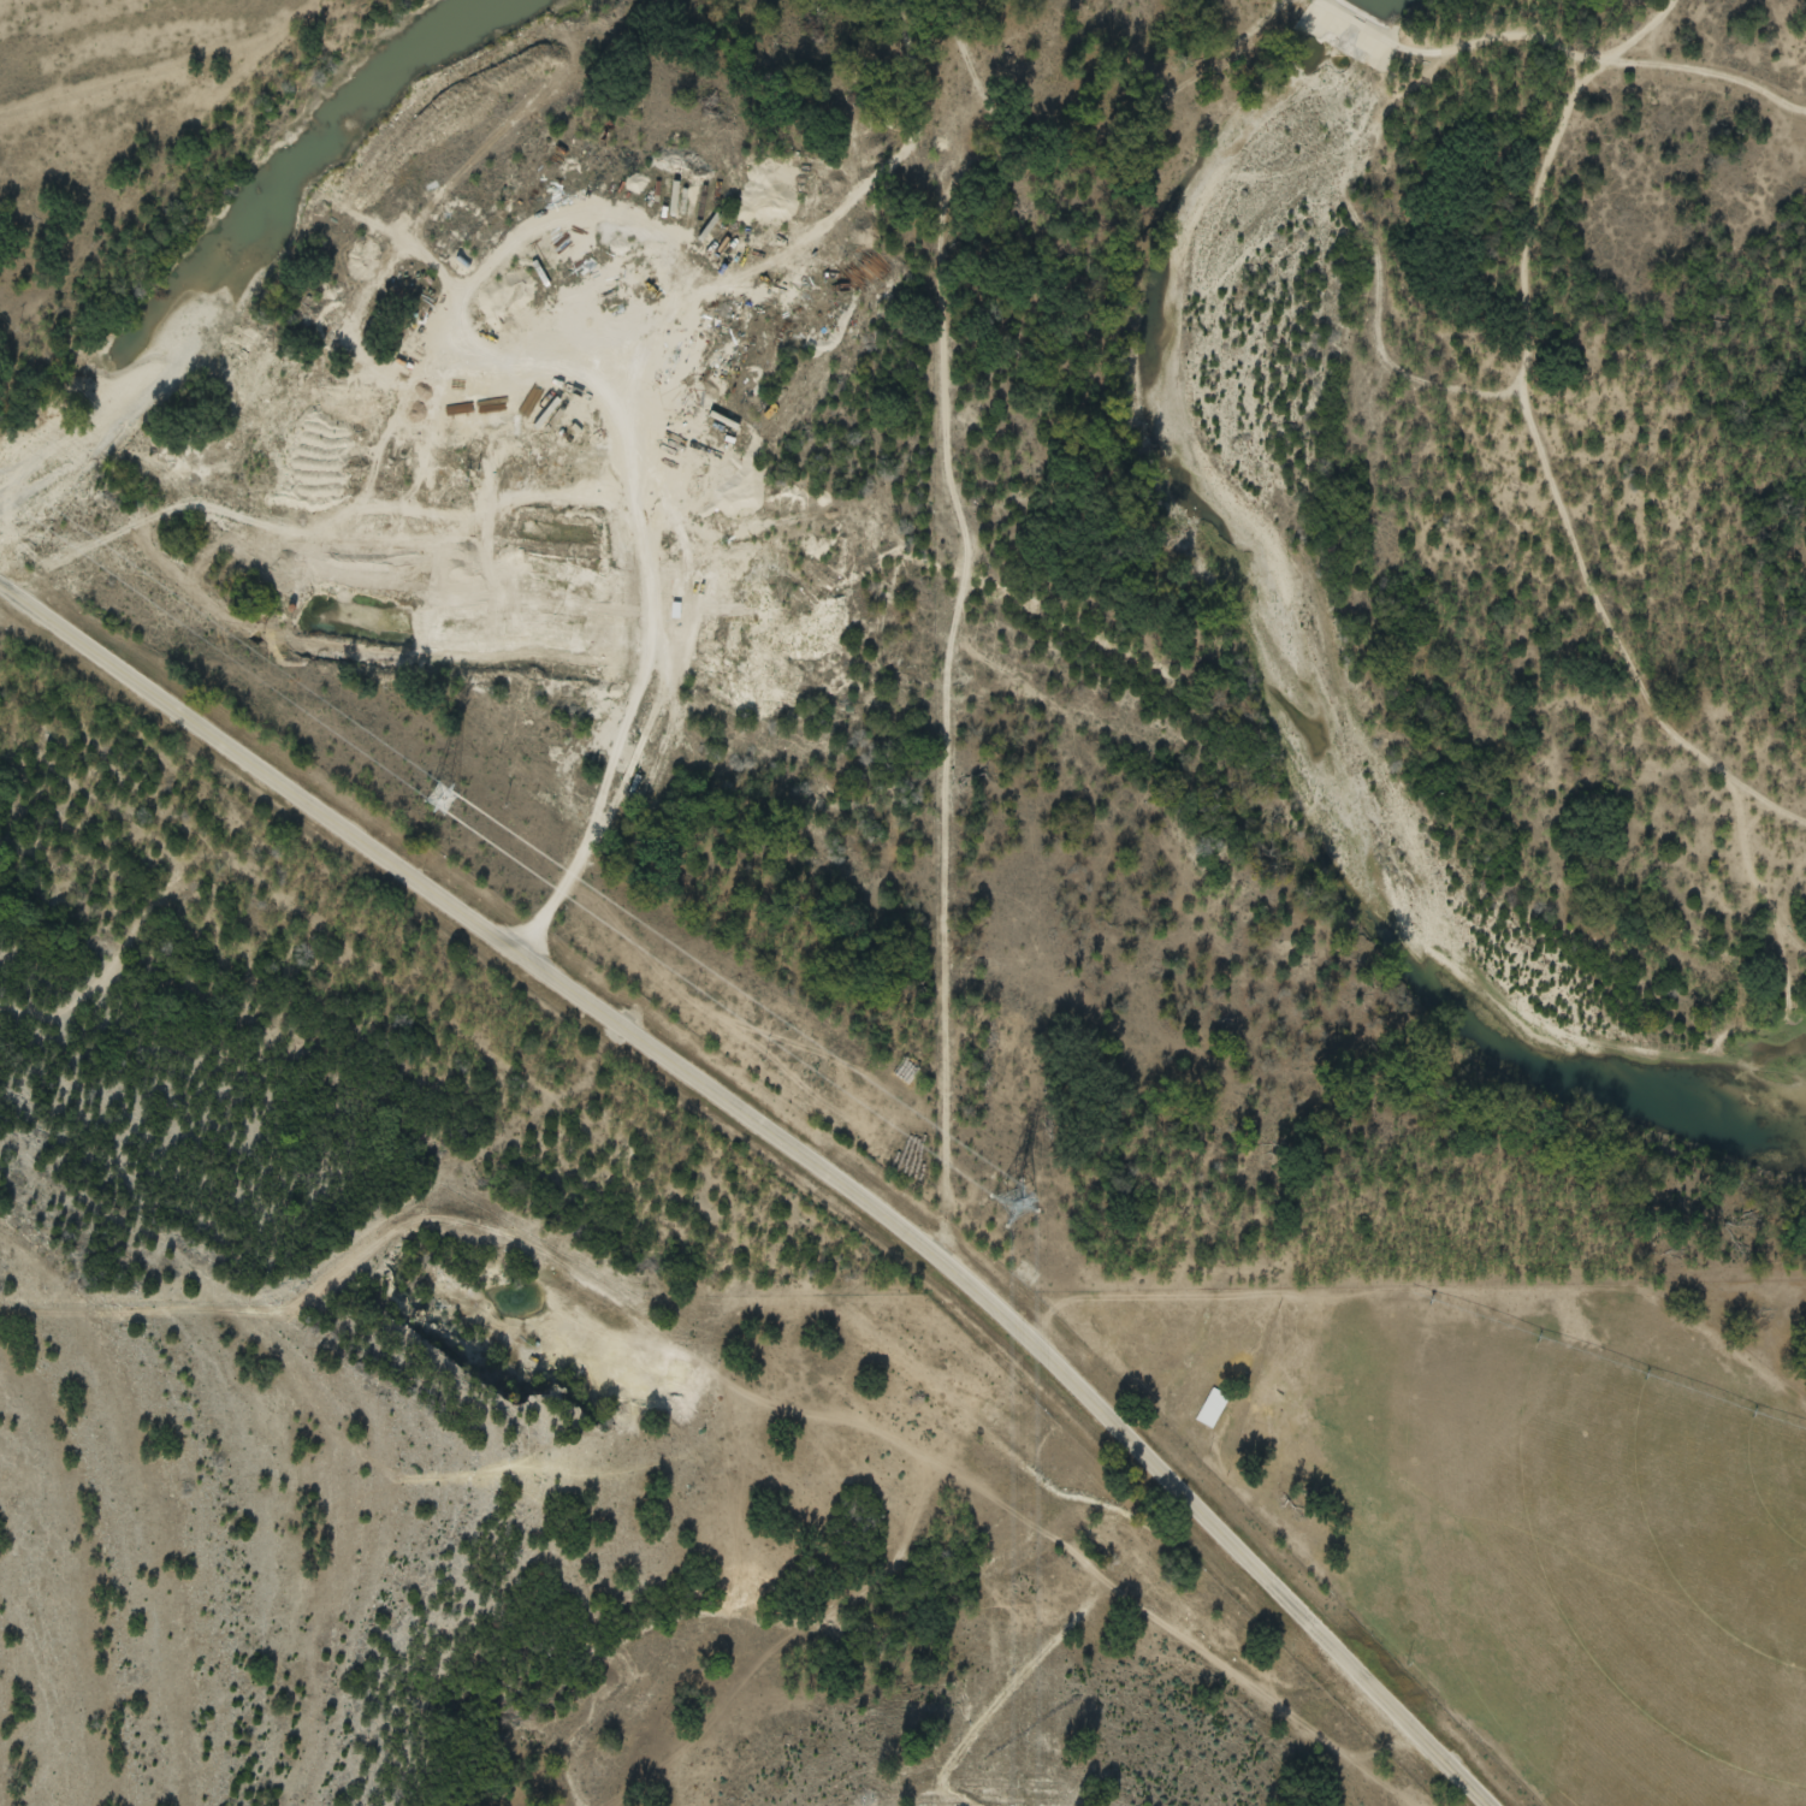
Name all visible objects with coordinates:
power tower: (430, 797)
road: (791, 1144)
power tower: (996, 1200)

